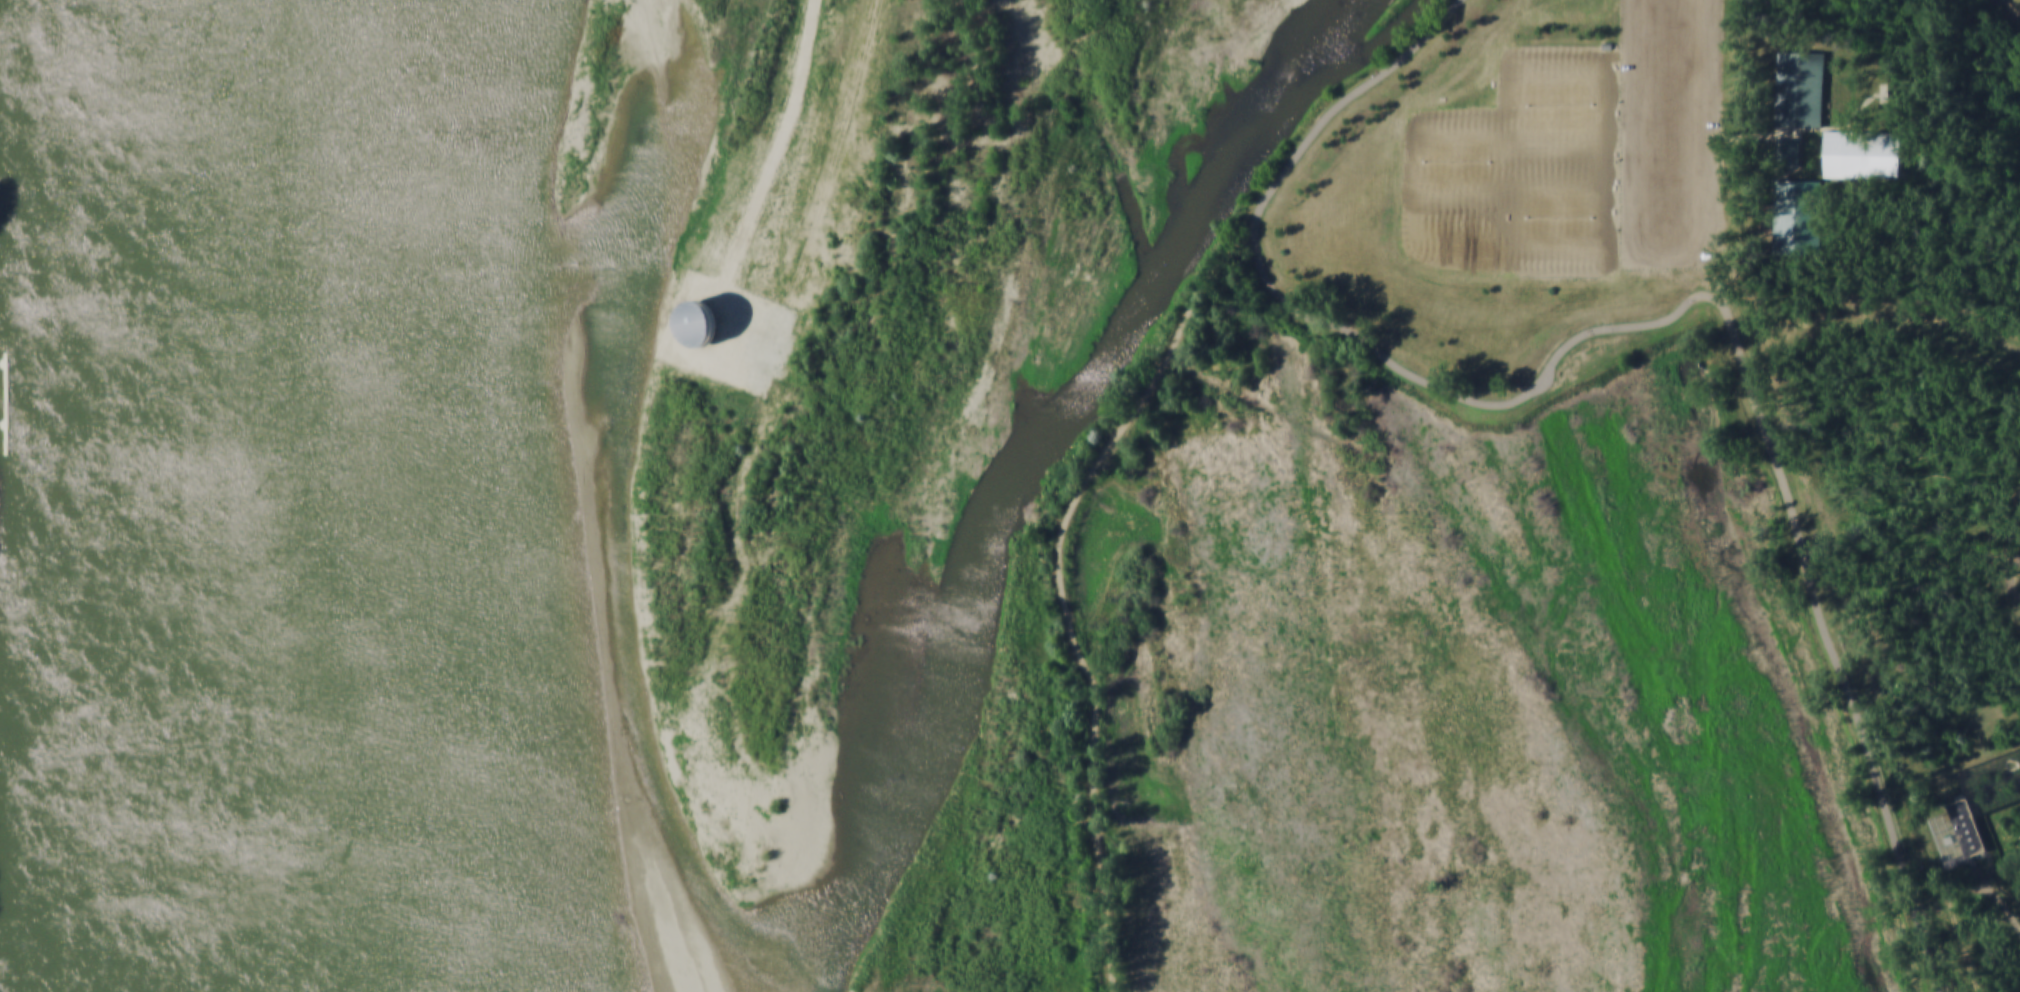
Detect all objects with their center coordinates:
road: (2006, 12)
building: (1609, 45)
building: (1803, 91)
park: (1547, 104)
park: (1579, 105)
road: (1809, 129)
parking lot: (1676, 134)
building: (1789, 154)
building: (1864, 156)
park: (1442, 159)
park: (1476, 161)
park: (1547, 217)
park: (1579, 217)
building: (1799, 219)
road: (1868, 315)
building: (699, 321)
road: (1641, 325)
river: (332, 496)
park: (1568, 525)
road: (2013, 579)
road: (1066, 584)
park: (1907, 590)
building: (1958, 833)
road: (1996, 898)

